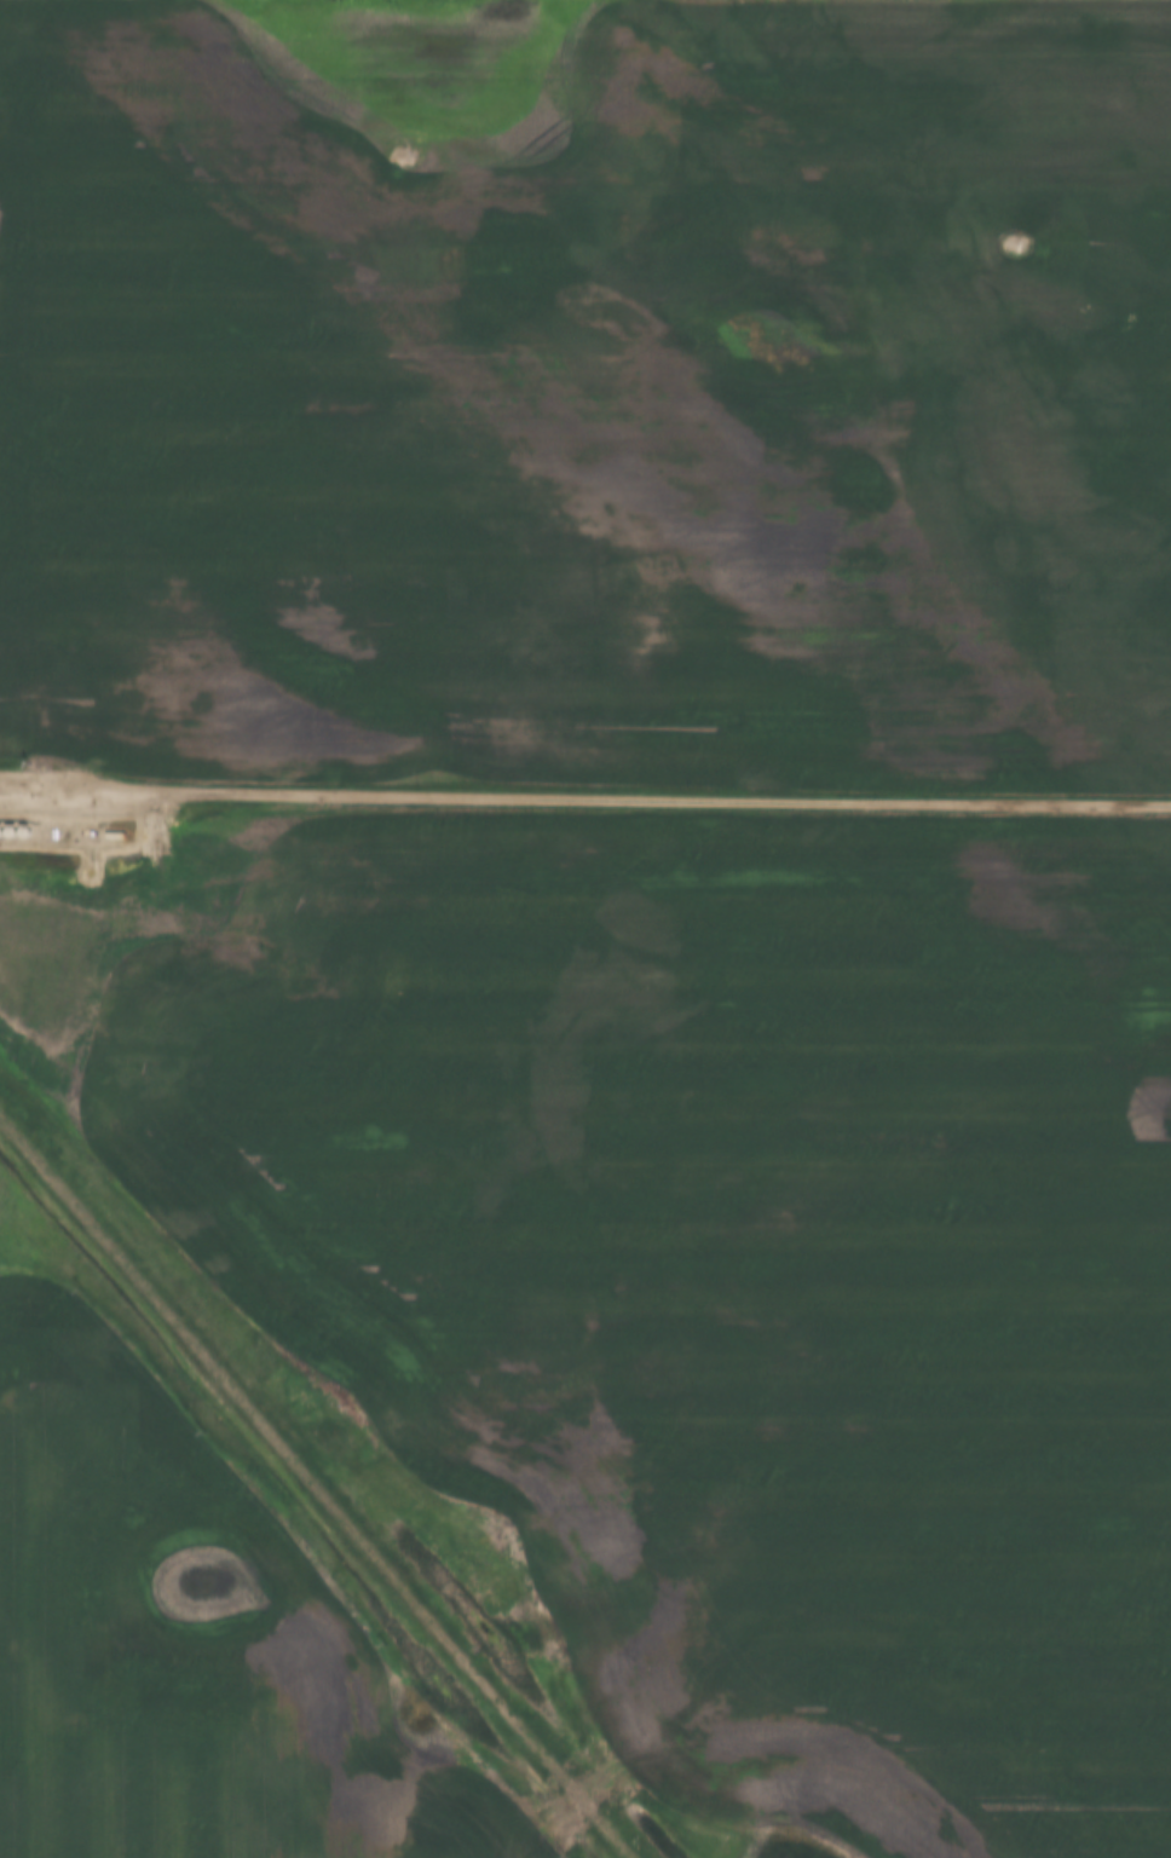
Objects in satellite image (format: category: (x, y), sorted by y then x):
road: (584, 798)
storage tank: (6, 817)

